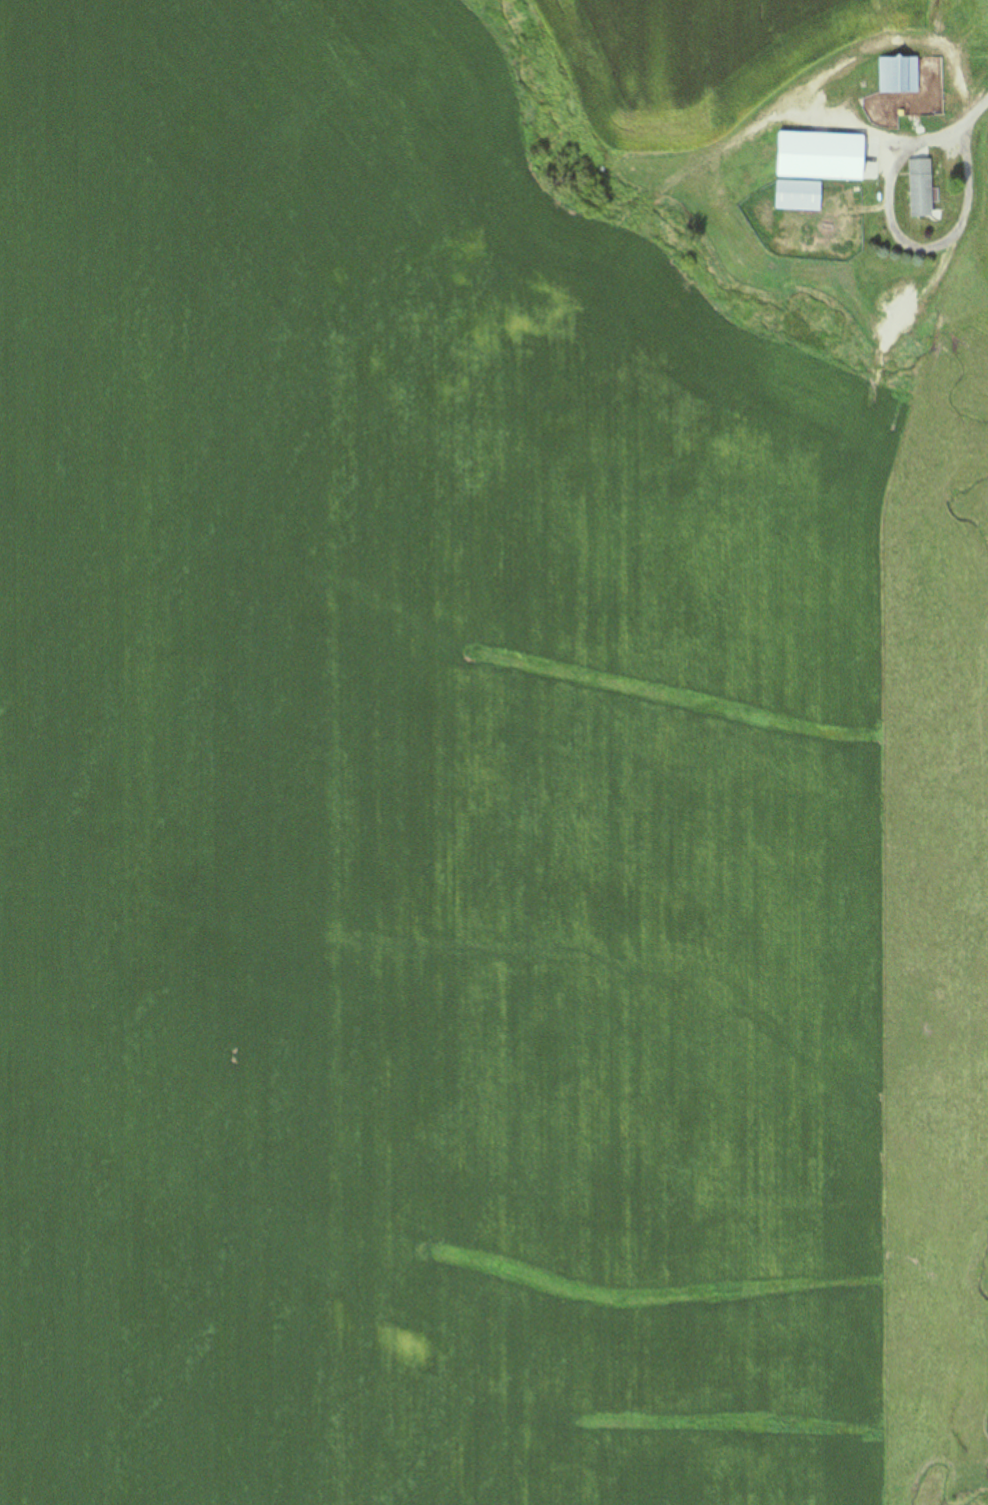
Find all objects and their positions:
building: (909, 15)
building: (848, 21)
building: (900, 75)
building: (838, 104)
building: (725, 123)
road: (961, 128)
building: (822, 157)
building: (922, 189)
building: (799, 196)

